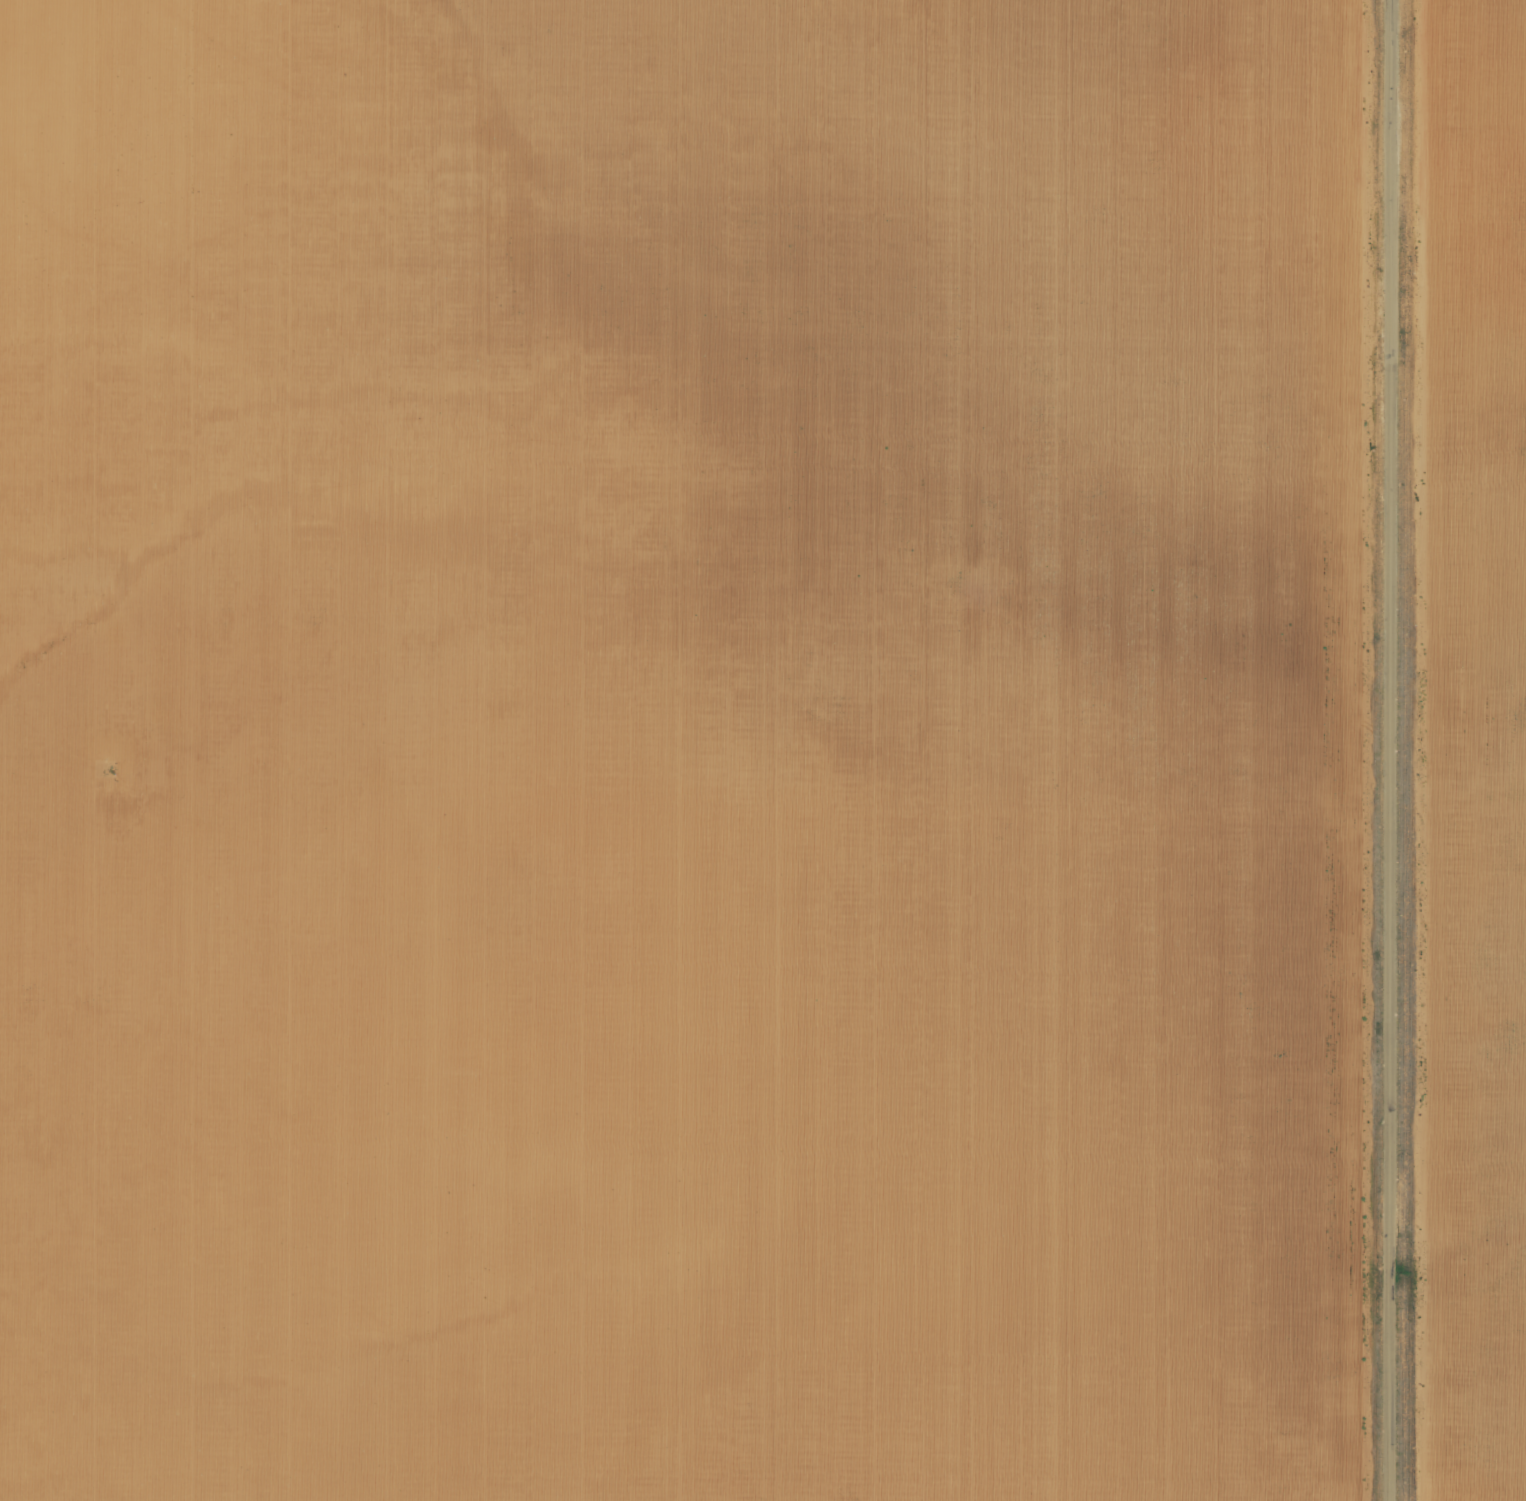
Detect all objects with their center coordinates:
road: (1390, 750)

